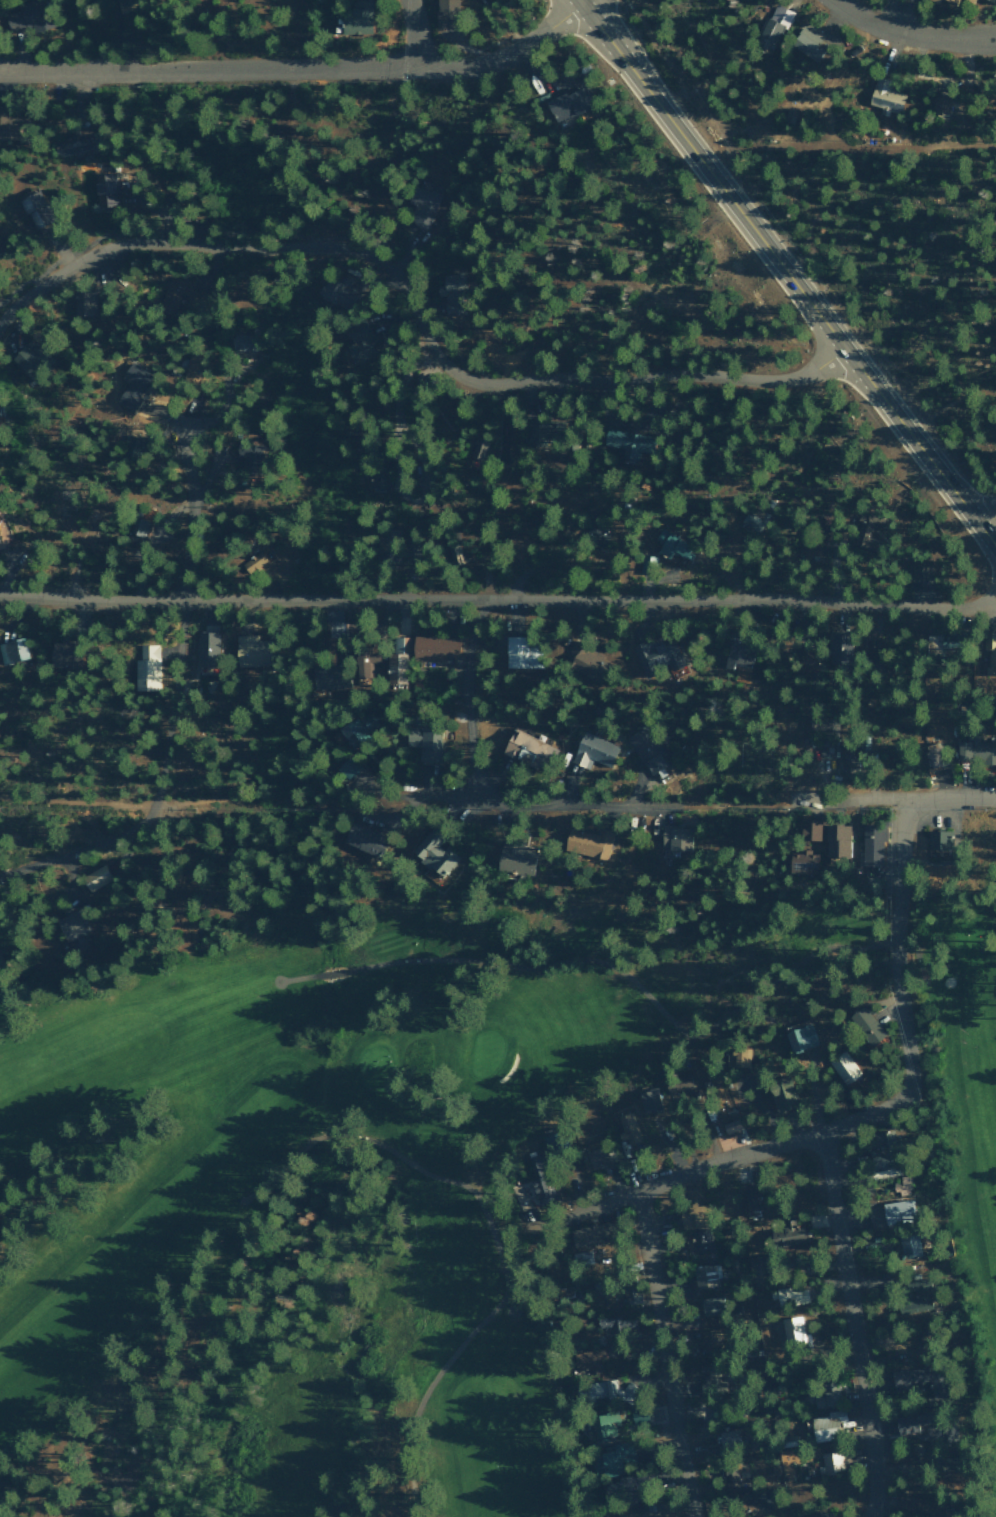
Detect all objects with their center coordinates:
building: (988, 0)
road: (581, 1)
building: (933, 1)
building: (969, 1)
building: (123, 2)
building: (951, 2)
building: (445, 13)
road: (894, 14)
building: (27, 17)
building: (357, 18)
building: (771, 29)
road: (911, 33)
road: (413, 34)
building: (807, 44)
road: (297, 70)
building: (885, 96)
building: (940, 103)
building: (567, 105)
building: (7, 126)
building: (73, 144)
building: (105, 190)
building: (421, 207)
building: (34, 210)
road: (271, 231)
road: (775, 258)
building: (335, 293)
building: (451, 294)
building: (179, 296)
building: (84, 304)
road: (415, 309)
building: (242, 342)
building: (357, 343)
building: (29, 359)
building: (192, 369)
building: (195, 402)
building: (536, 430)
building: (624, 442)
building: (131, 446)
building: (479, 449)
building: (246, 456)
building: (379, 476)
road: (984, 510)
building: (751, 522)
road: (185, 529)
building: (866, 529)
building: (595, 532)
road: (984, 532)
building: (812, 547)
building: (517, 548)
building: (673, 549)
building: (454, 553)
building: (395, 554)
building: (918, 568)
road: (497, 599)
building: (333, 621)
building: (837, 646)
building: (206, 648)
building: (434, 648)
building: (12, 650)
building: (250, 650)
building: (990, 651)
building: (520, 652)
building: (737, 652)
building: (65, 653)
building: (658, 656)
building: (397, 659)
building: (363, 660)
building: (586, 661)
building: (807, 662)
building: (146, 667)
building: (327, 676)
road: (467, 698)
building: (352, 731)
building: (425, 742)
building: (825, 747)
building: (525, 748)
building: (646, 749)
building: (975, 750)
building: (593, 751)
building: (933, 755)
building: (848, 758)
building: (346, 768)
road: (157, 789)
road: (894, 799)
road: (195, 801)
road: (507, 803)
road: (711, 804)
building: (809, 828)
building: (674, 837)
building: (361, 838)
building: (937, 839)
building: (837, 840)
building: (588, 842)
building: (872, 845)
building: (433, 852)
building: (515, 857)
building: (803, 861)
building: (95, 878)
building: (72, 924)
road: (908, 933)
road: (593, 961)
road: (332, 974)
road: (300, 979)
road: (901, 993)
building: (866, 1025)
building: (800, 1037)
building: (737, 1057)
building: (843, 1067)
building: (677, 1082)
building: (781, 1093)
building: (720, 1099)
building: (649, 1101)
building: (730, 1125)
building: (627, 1130)
park: (421, 1134)
building: (876, 1138)
building: (600, 1158)
building: (535, 1164)
building: (882, 1167)
road: (679, 1174)
building: (900, 1186)
building: (539, 1188)
building: (750, 1199)
building: (890, 1212)
building: (691, 1216)
building: (589, 1234)
building: (786, 1234)
building: (701, 1241)
building: (909, 1245)
building: (582, 1256)
road: (506, 1259)
building: (705, 1276)
building: (631, 1294)
building: (789, 1295)
building: (921, 1296)
building: (708, 1306)
building: (603, 1322)
road: (853, 1325)
building: (792, 1329)
building: (708, 1339)
road: (665, 1353)
building: (589, 1360)
building: (712, 1376)
building: (917, 1377)
building: (605, 1391)
building: (824, 1394)
building: (909, 1423)
building: (606, 1424)
building: (826, 1425)
building: (729, 1439)
building: (612, 1459)
building: (830, 1462)
building: (944, 1465)
building: (731, 1476)
building: (626, 1489)
building: (753, 1501)
building: (923, 1507)
building: (818, 1515)
building: (597, 1516)

